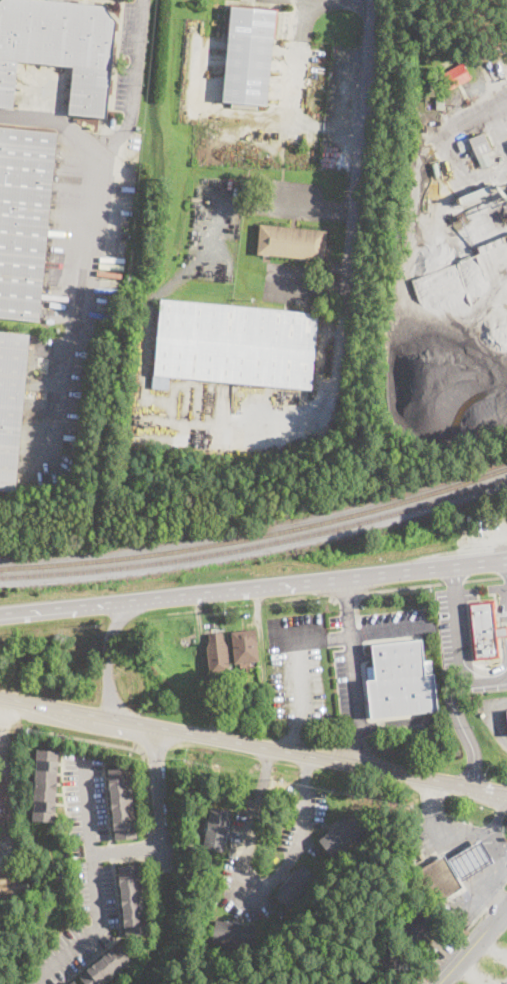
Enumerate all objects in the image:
road: (359, 0)
building: (58, 48)
building: (248, 54)
parking lot: (131, 55)
building: (455, 76)
road: (293, 93)
building: (440, 102)
road: (476, 117)
road: (51, 124)
building: (480, 144)
building: (436, 169)
road: (358, 181)
road: (306, 209)
building: (24, 218)
road: (84, 224)
building: (292, 243)
building: (435, 287)
building: (236, 344)
building: (161, 382)
building: (11, 403)
building: (449, 427)
parking lot: (500, 527)
railway: (256, 534)
railway: (257, 544)
road: (506, 561)
road: (504, 574)
road: (482, 577)
road: (324, 579)
road: (453, 580)
road: (385, 588)
parking lot: (499, 590)
road: (346, 596)
road: (333, 597)
road: (70, 607)
road: (505, 614)
parking lot: (392, 623)
road: (503, 623)
building: (486, 630)
road: (503, 632)
road: (361, 634)
road: (465, 639)
building: (245, 646)
parking lot: (461, 646)
road: (107, 654)
building: (217, 654)
parking lot: (296, 664)
road: (501, 667)
road: (353, 671)
road: (460, 677)
building: (400, 679)
road: (483, 680)
parking lot: (350, 682)
road: (13, 698)
road: (295, 701)
road: (60, 707)
building: (506, 711)
road: (496, 717)
road: (122, 719)
road: (390, 723)
road: (125, 745)
road: (329, 760)
building: (45, 784)
road: (10, 792)
road: (160, 797)
building: (122, 802)
road: (499, 813)
road: (439, 823)
building: (216, 829)
building: (341, 836)
road: (129, 848)
building: (470, 860)
gas station: (470, 860)
road: (501, 863)
parking lot: (80, 879)
building: (438, 880)
road: (96, 882)
building: (296, 887)
road: (260, 891)
road: (498, 898)
building: (132, 899)
building: (416, 929)
building: (235, 933)
road: (473, 947)
building: (385, 958)
building: (106, 966)
building: (356, 980)
building: (73, 982)

